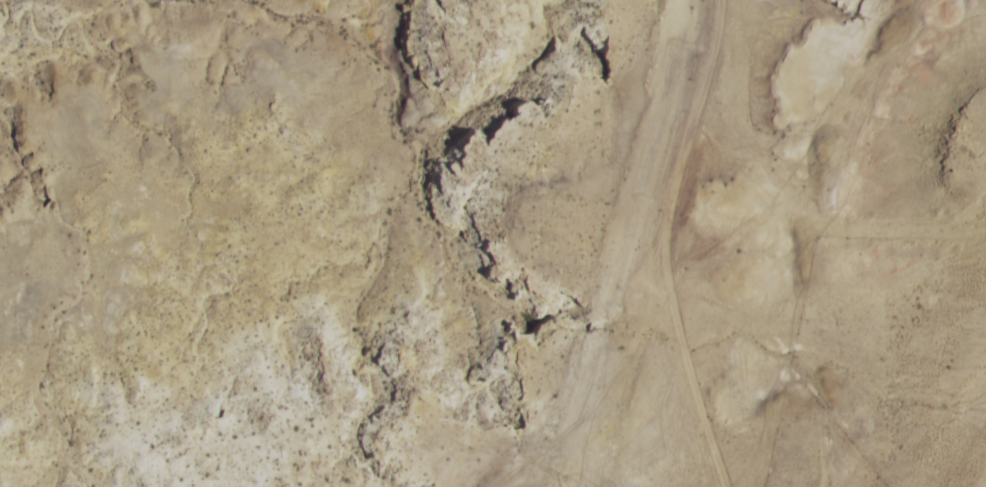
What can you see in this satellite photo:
road: (688, 245)

